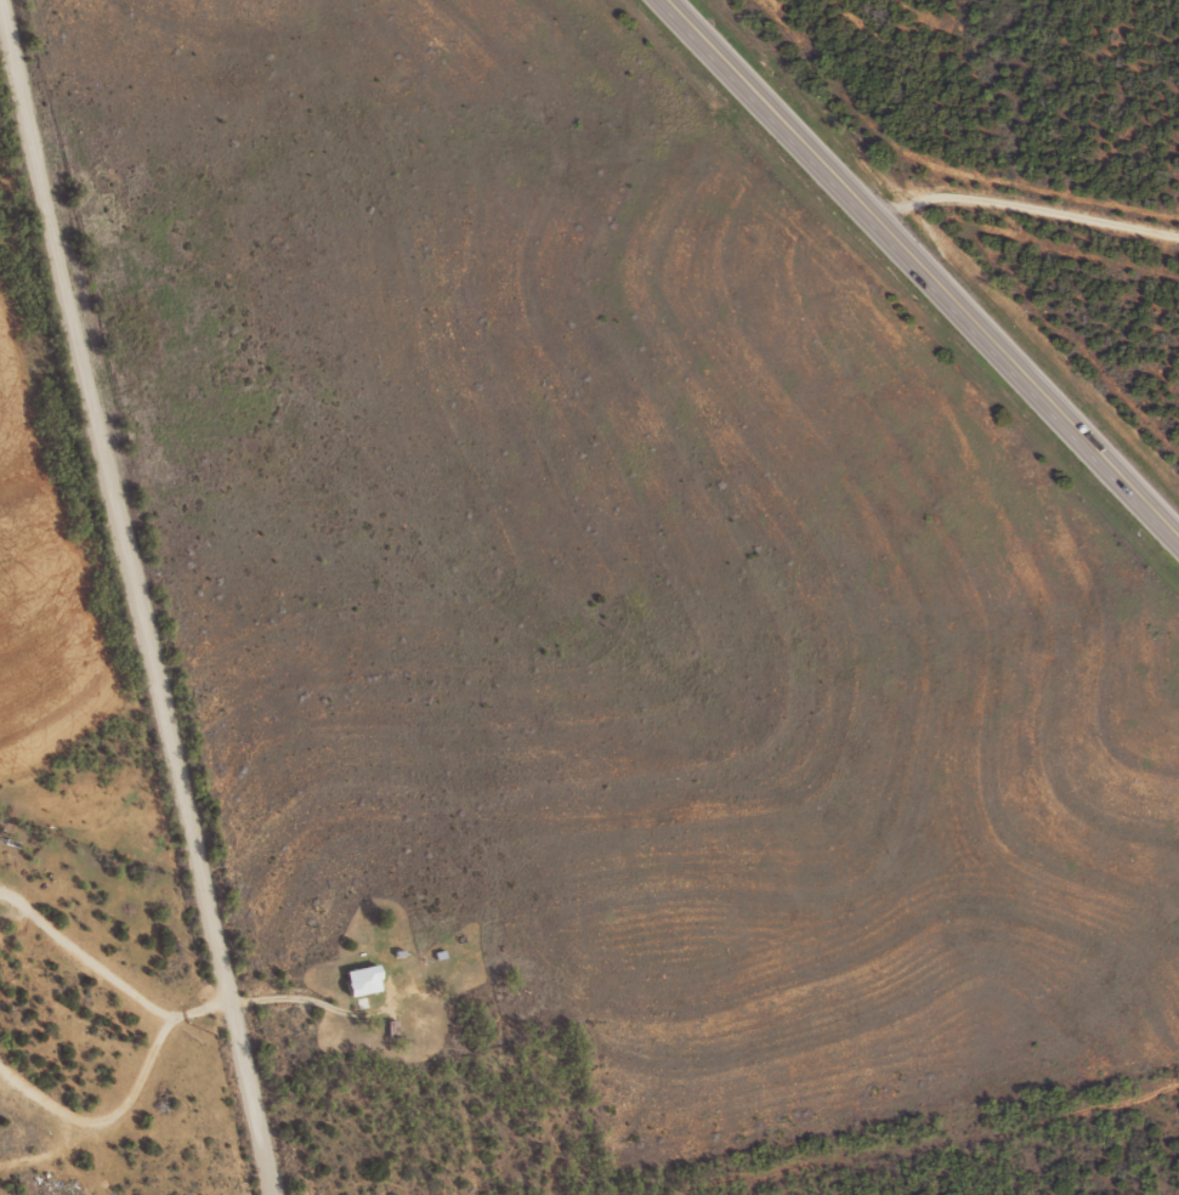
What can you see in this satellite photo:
road: (1024, 206)
road: (922, 270)
road: (154, 596)
building: (364, 979)

